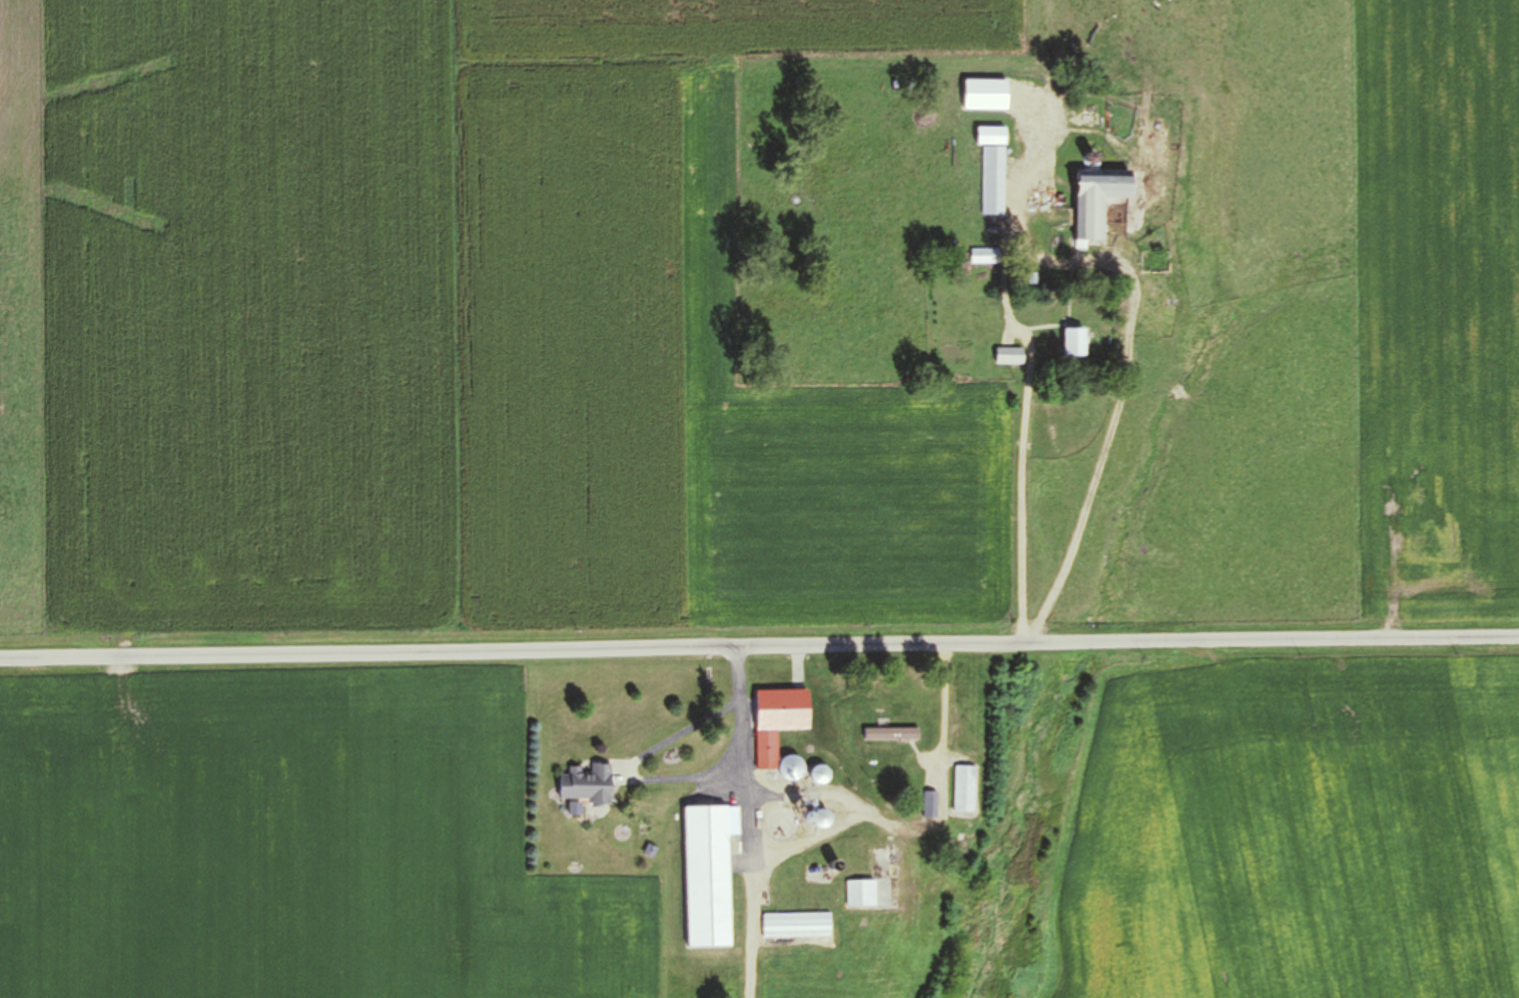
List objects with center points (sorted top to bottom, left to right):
building: (1037, 105)
building: (993, 168)
building: (1096, 200)
building: (1074, 343)
building: (1009, 356)
road: (759, 646)
building: (777, 722)
building: (891, 734)
building: (790, 769)
building: (587, 787)
building: (964, 789)
road: (861, 811)
building: (820, 820)
building: (709, 874)
building: (861, 893)
building: (797, 925)

